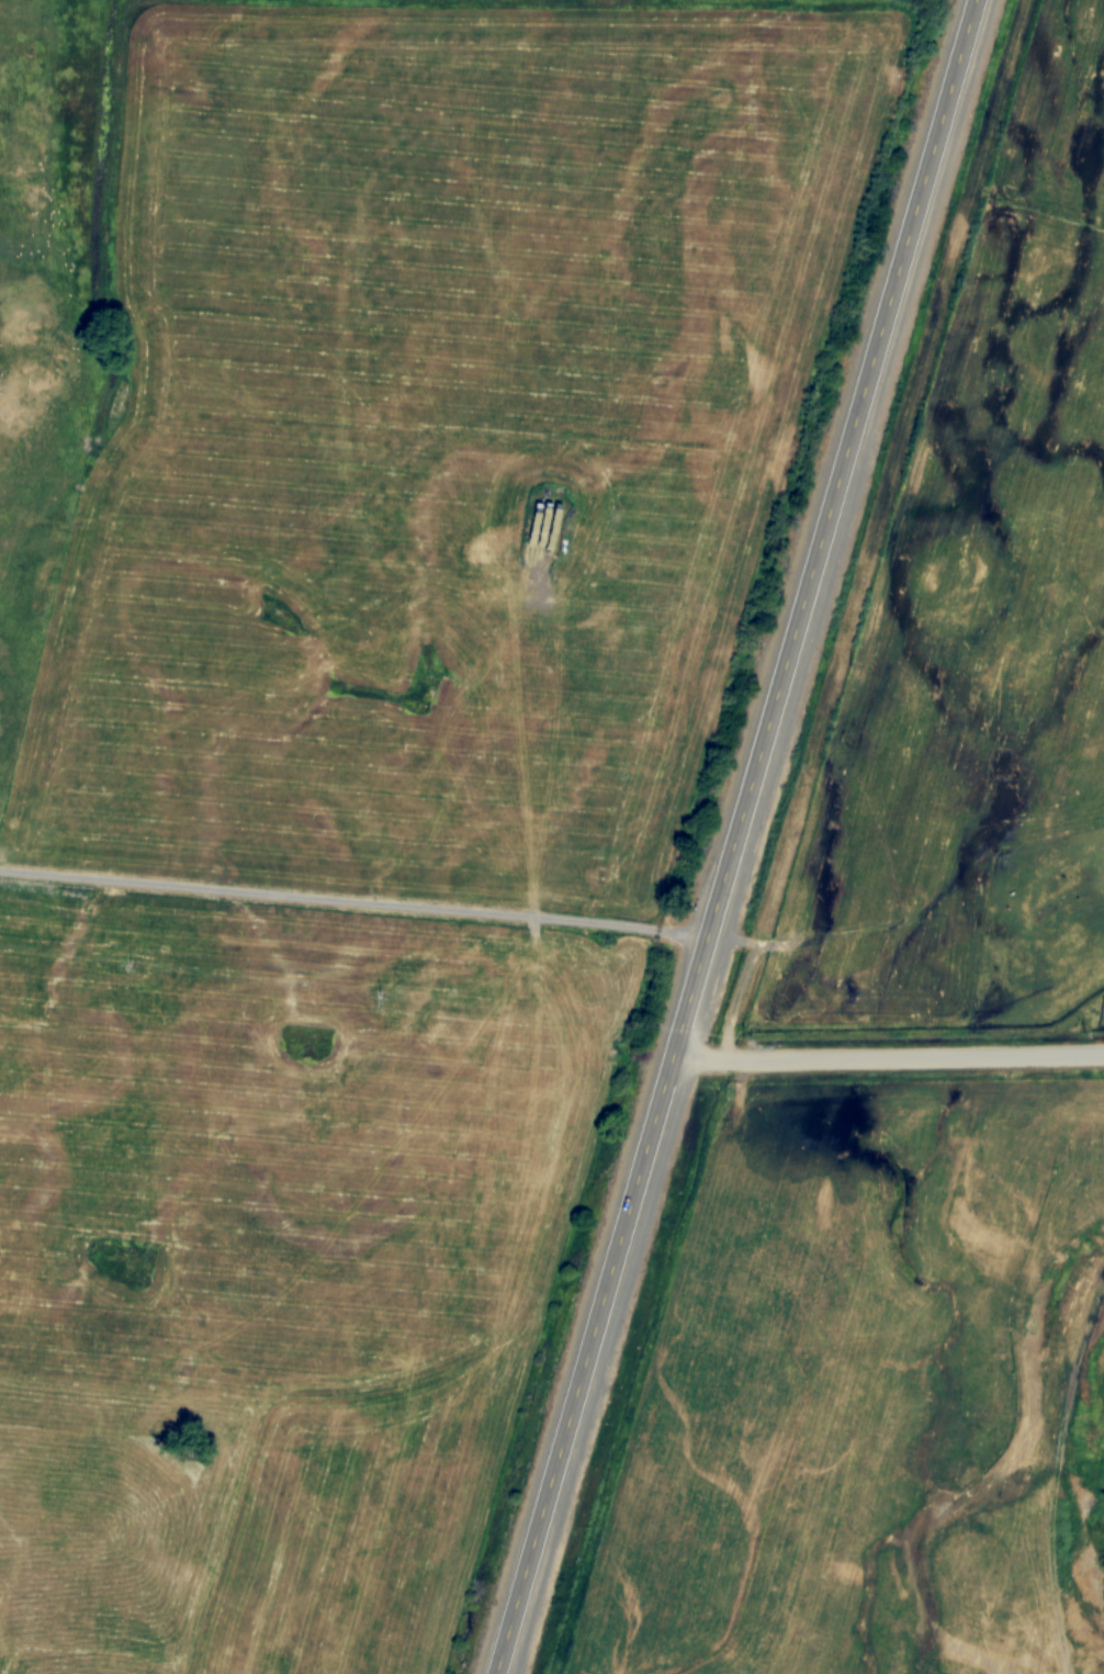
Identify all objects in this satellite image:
building: (544, 515)
road: (735, 836)
road: (354, 898)
road: (888, 1057)

